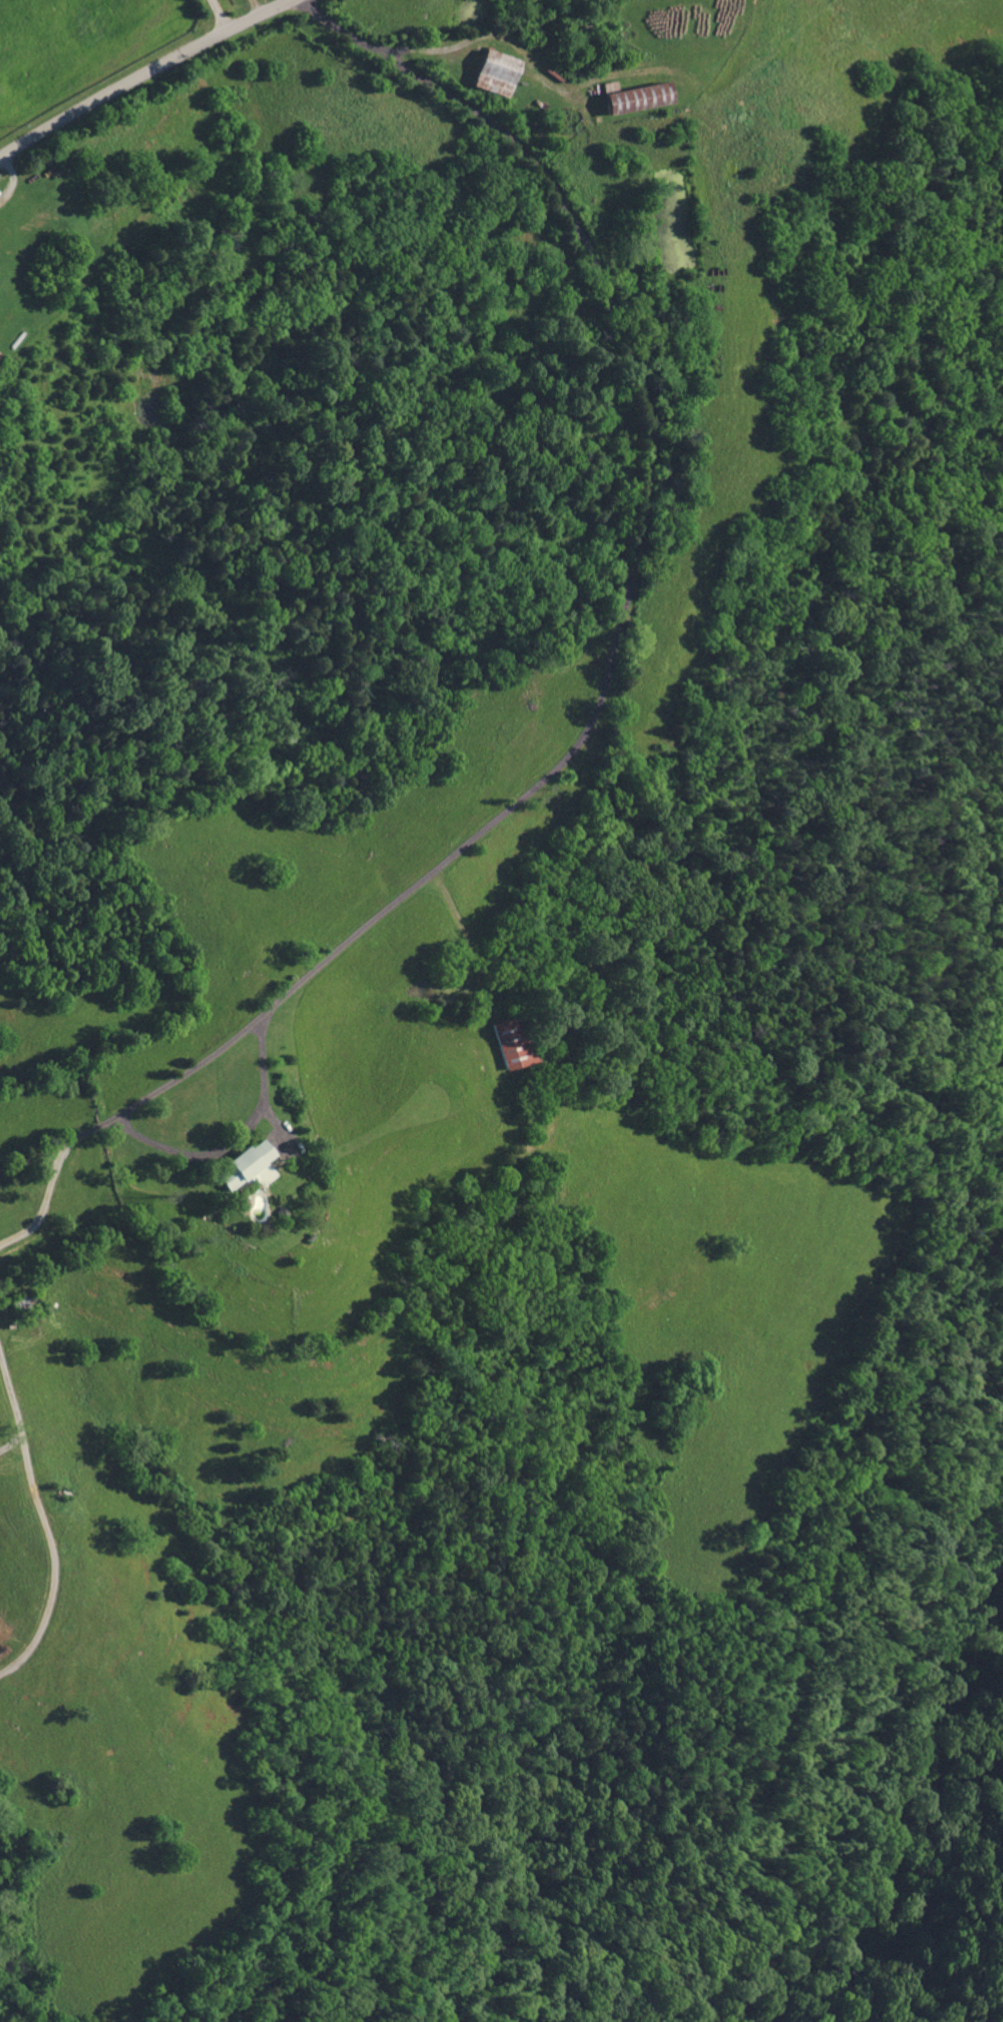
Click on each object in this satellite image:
road: (218, 14)
building: (494, 72)
road: (140, 73)
building: (636, 97)
road: (14, 181)
building: (1, 357)
road: (611, 659)
building: (508, 1041)
road: (234, 1139)
building: (248, 1166)
building: (281, 1212)
building: (25, 1302)
road: (921, 1874)

